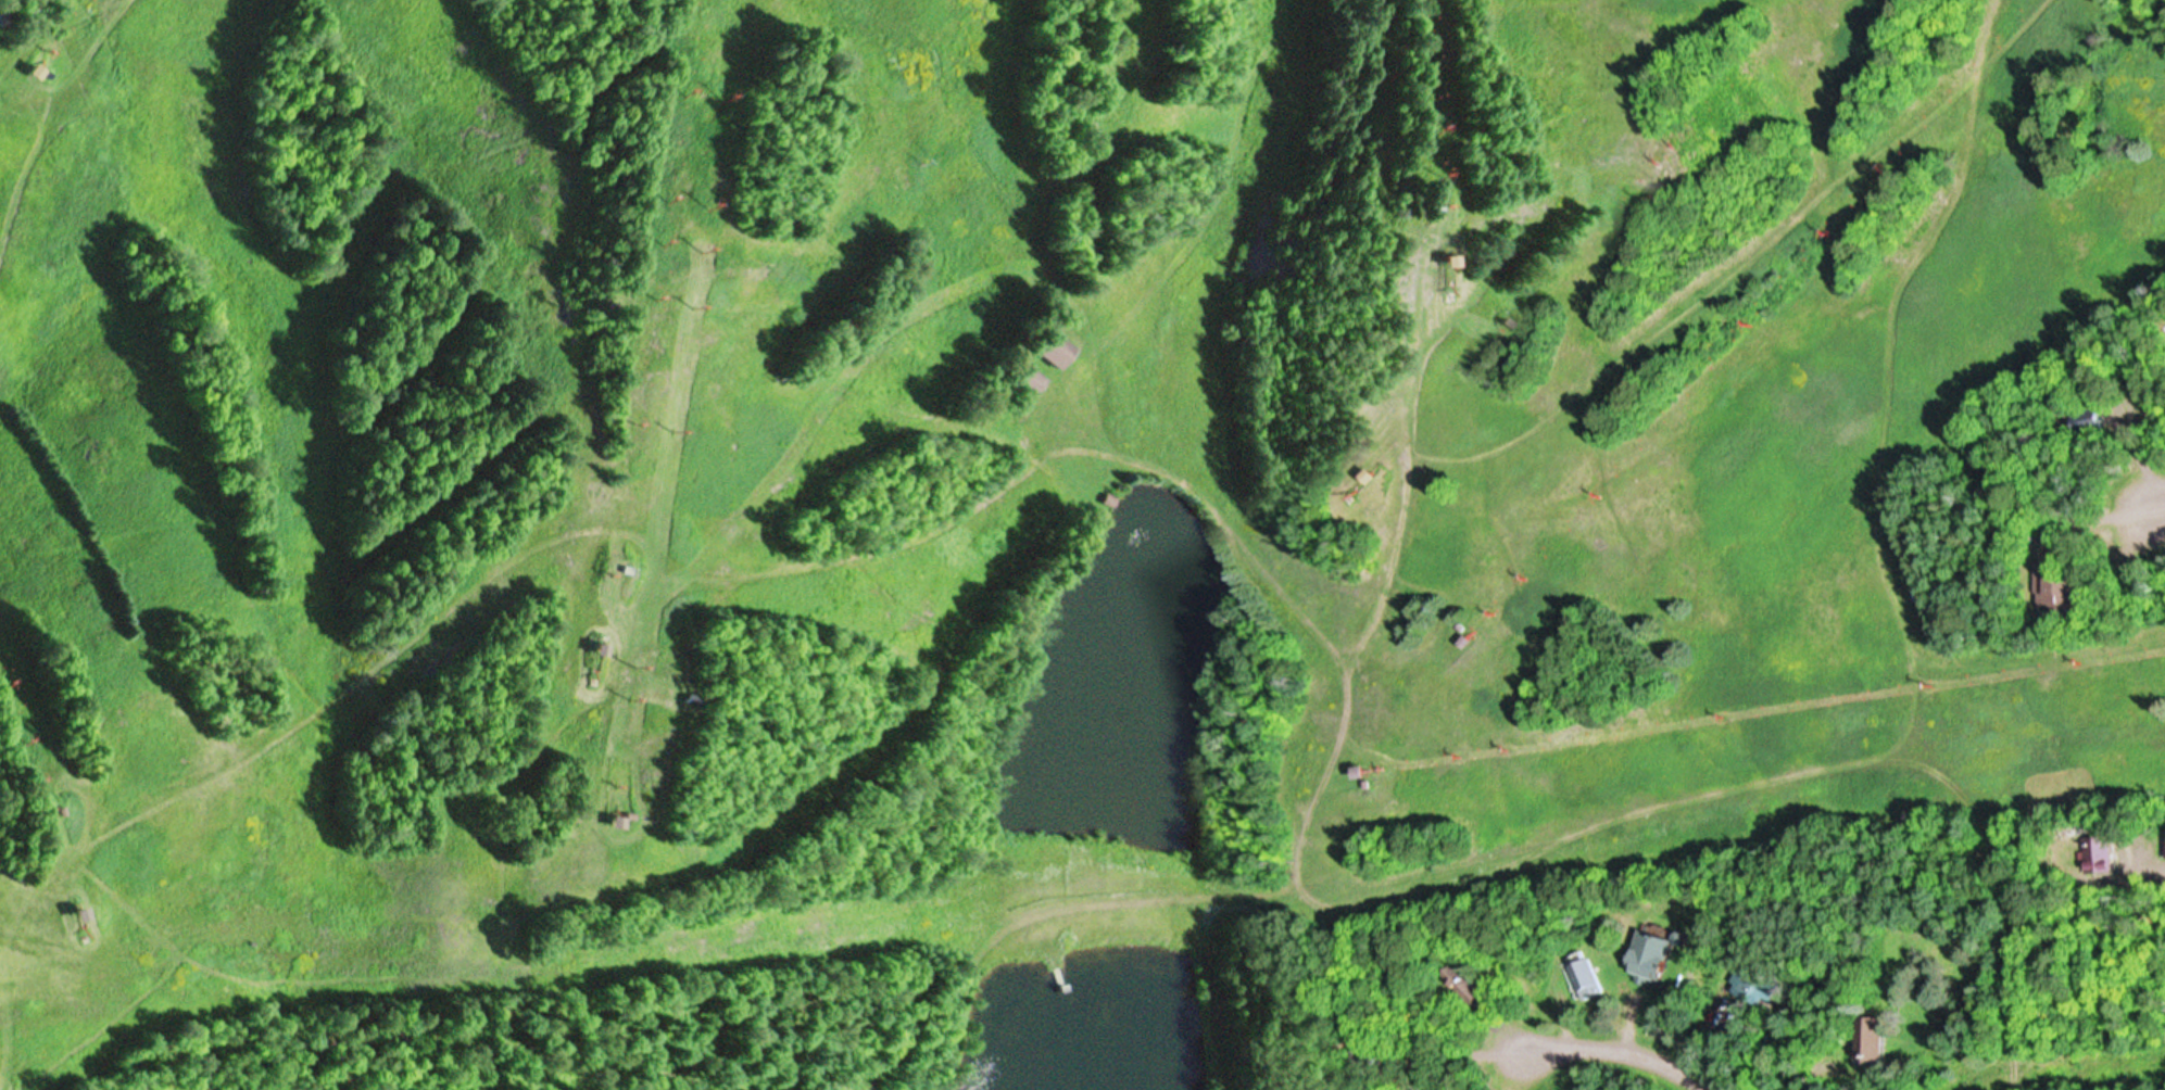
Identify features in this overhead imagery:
aerialway pylon: (680, 85)
aerialway pylon: (721, 91)
aerialway pylon: (1426, 107)
aerialway pylon: (1661, 159)
aerialway pylon: (1885, 163)
aerialway pylon: (1430, 166)
aerialway pylon: (1646, 174)
aerialway pylon: (664, 189)
aerialway pylon: (1629, 191)
aerialway pylon: (705, 200)
aerialway pylon: (1828, 225)
aerialway pylon: (657, 235)
aerialway pylon: (700, 241)
aerialway pylon: (650, 287)
aerialway pylon: (690, 303)
building: (1053, 350)
building: (1029, 380)
aerialway pylon: (630, 417)
aerialway pylon: (672, 424)
aerialway pylon: (1596, 480)
ski resort: (1042, 508)
road: (2155, 509)
aerialway pylon: (1521, 562)
aerialway pylon: (607, 569)
building: (2054, 583)
aerialway pylon: (1494, 592)
aerialway pylon: (638, 657)
aerialway pylon: (2081, 659)
aerialway pylon: (5, 680)
aerialway pylon: (1928, 682)
aerialway pylon: (632, 692)
aerialway pylon: (1721, 712)
aerialway pylon: (22, 736)
aerialway pylon: (1508, 744)
aerialway pylon: (1457, 751)
aerialway pylon: (33, 775)
building: (2097, 855)
road: (2147, 867)
road: (2006, 912)
building: (1657, 955)
building: (1584, 975)
building: (1757, 985)
building: (1462, 991)
road: (1634, 1025)
building: (1874, 1038)
road: (1704, 1040)
road: (1613, 1050)
building: (1343, 1053)
road: (2059, 1067)
road: (1695, 1088)

